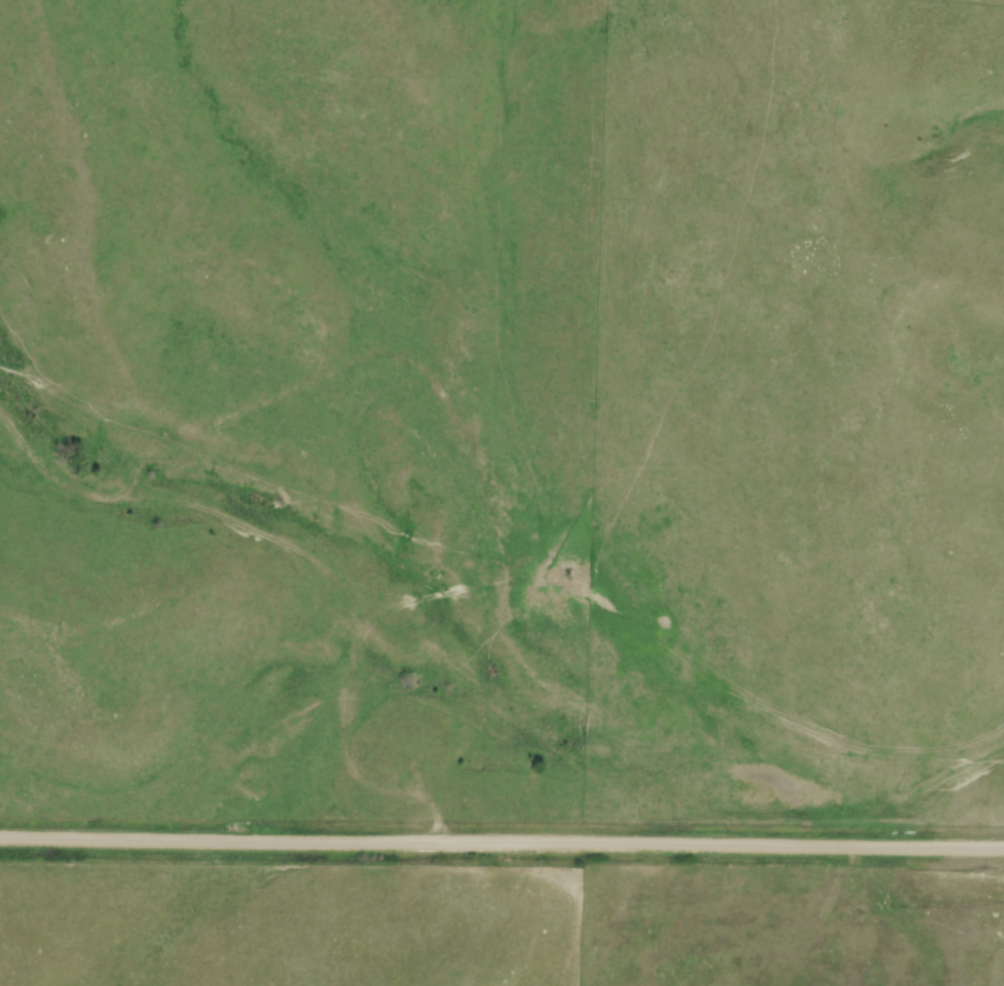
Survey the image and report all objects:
road: (502, 843)

